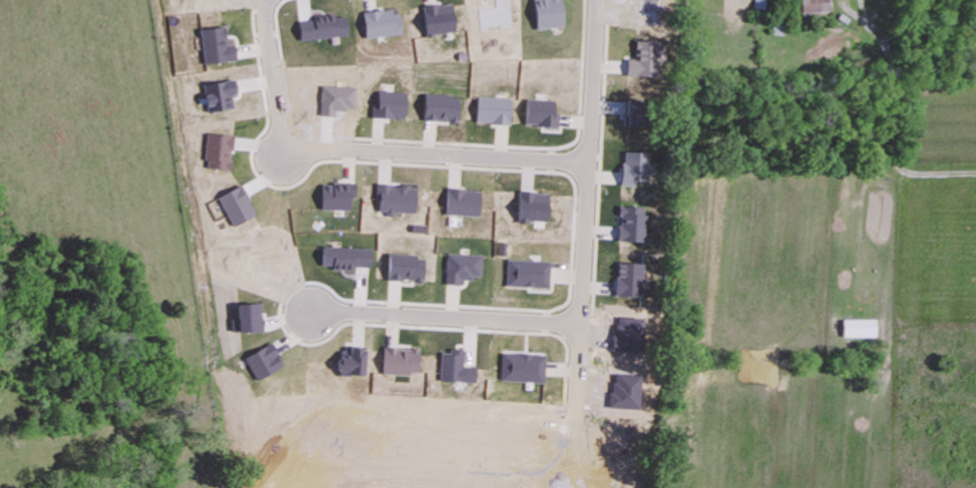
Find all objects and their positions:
building: (760, 4)
building: (813, 6)
building: (546, 13)
building: (380, 23)
building: (640, 59)
building: (391, 104)
building: (439, 107)
road: (361, 153)
building: (336, 197)
building: (395, 199)
road: (584, 200)
building: (462, 203)
road: (195, 244)
road: (442, 314)
building: (858, 328)
building: (262, 361)
building: (349, 363)

